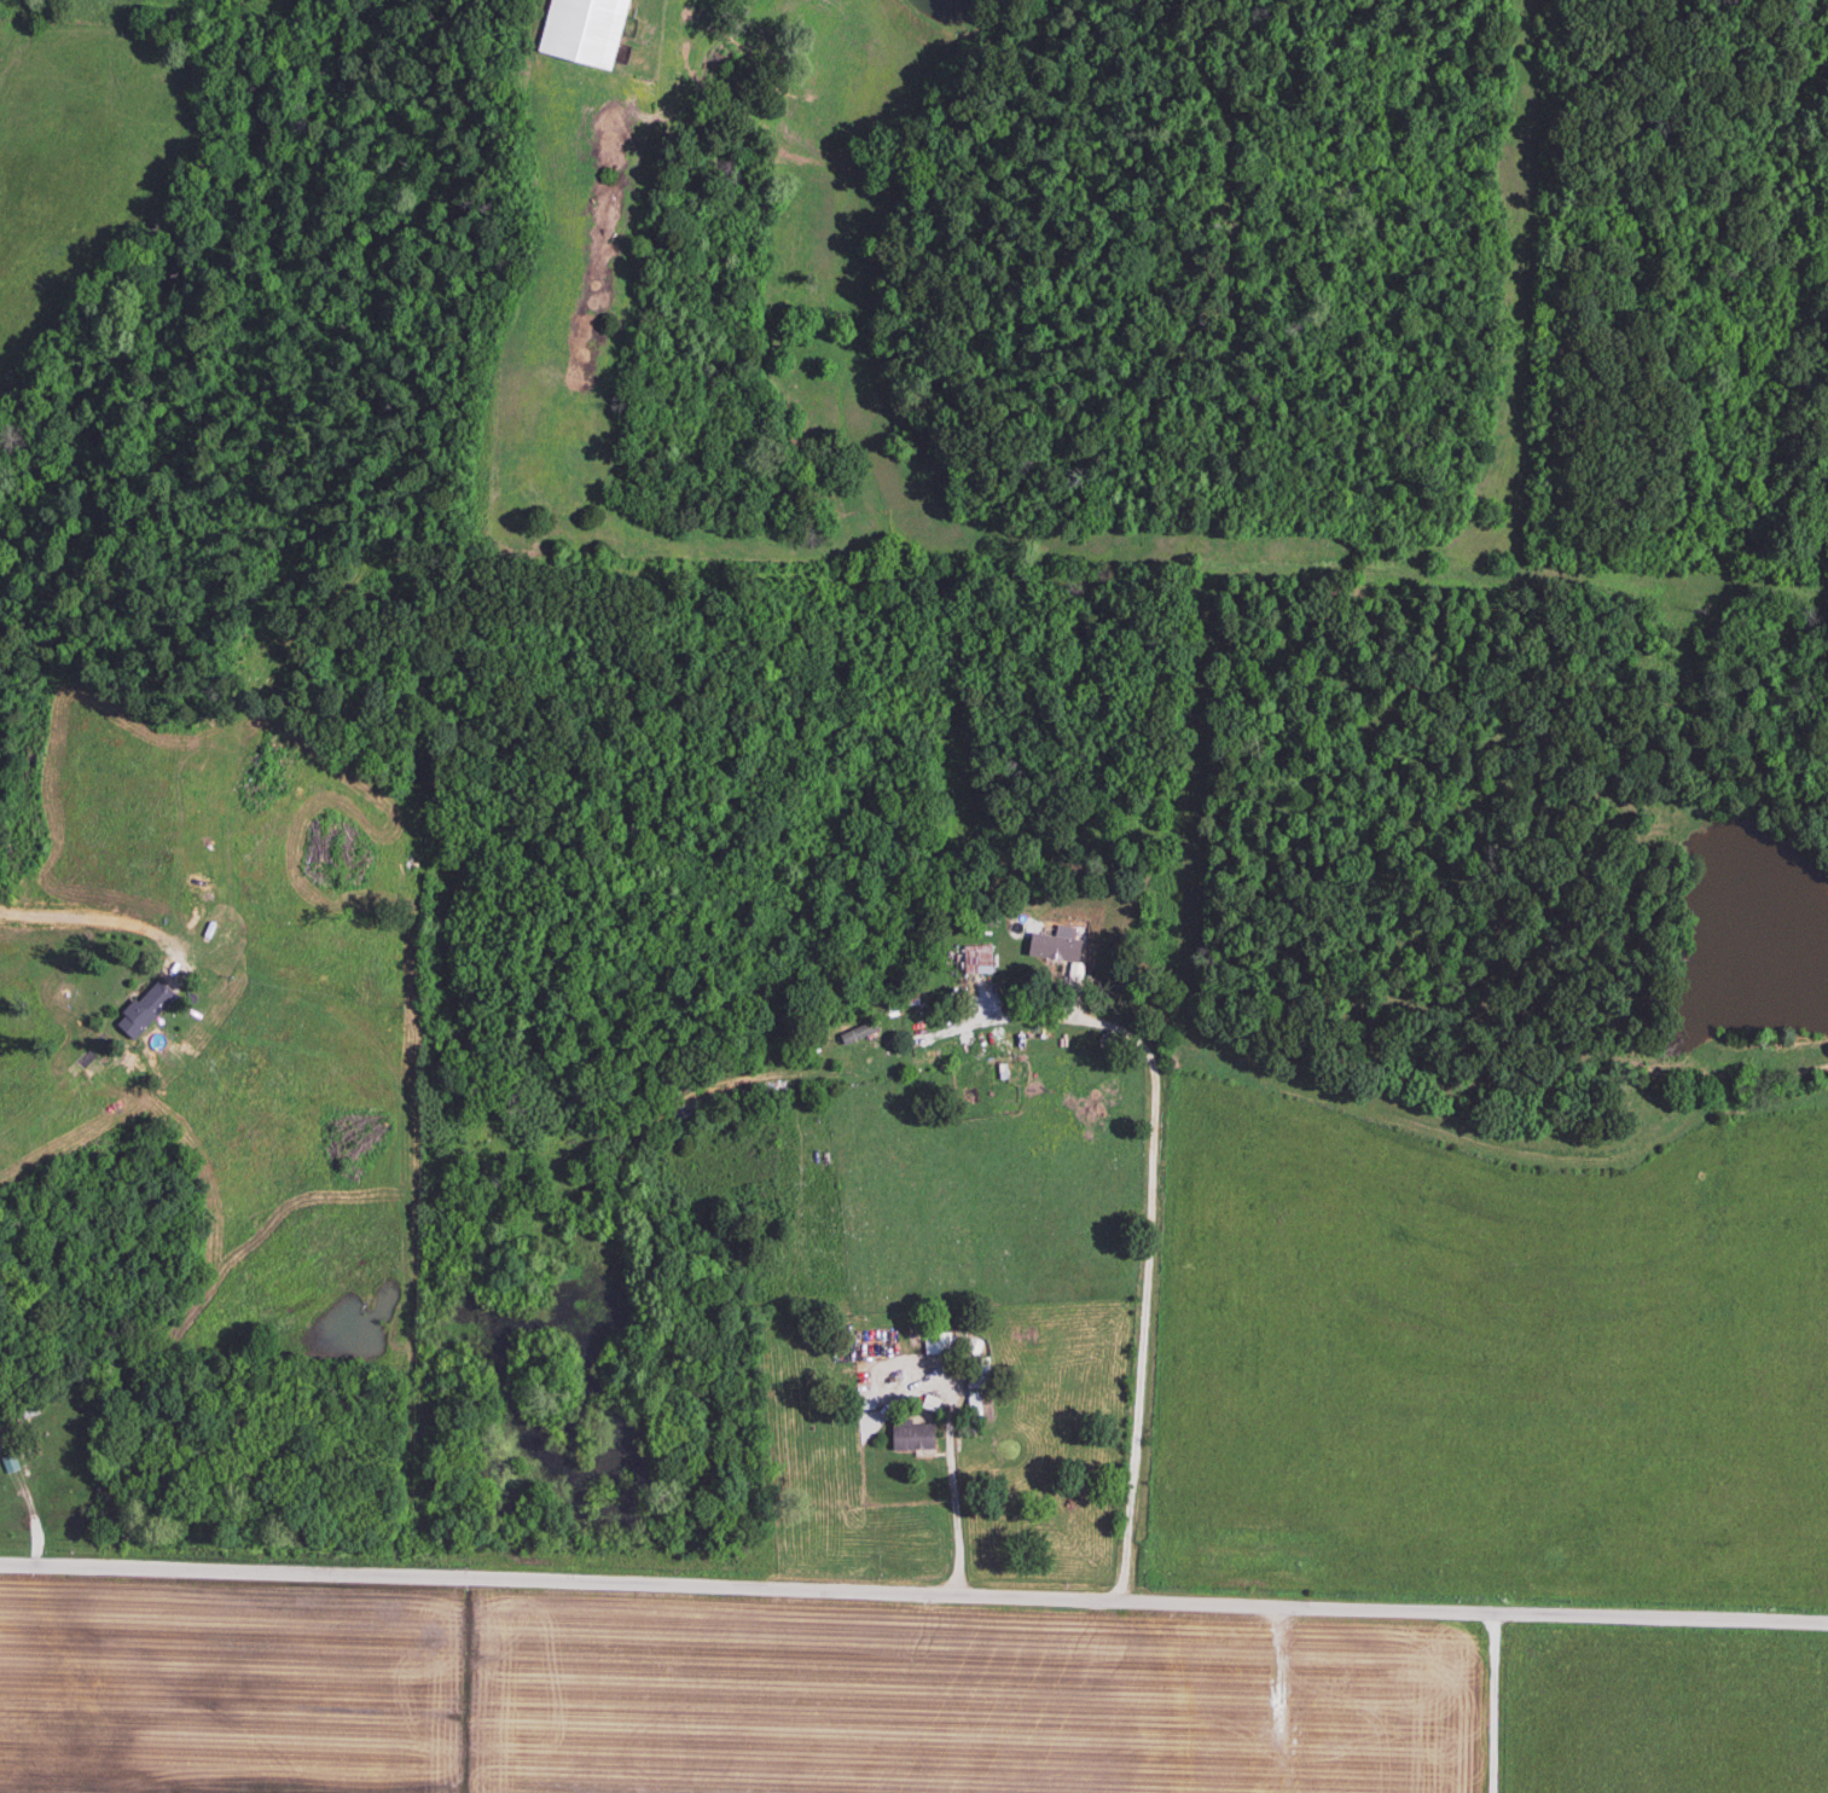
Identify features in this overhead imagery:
building: (580, 31)
road: (92, 919)
building: (1052, 950)
road: (1145, 1248)
building: (935, 1346)
building: (971, 1403)
building: (28, 1409)
building: (910, 1437)
road: (952, 1480)
road: (913, 1594)
road: (1491, 1704)

